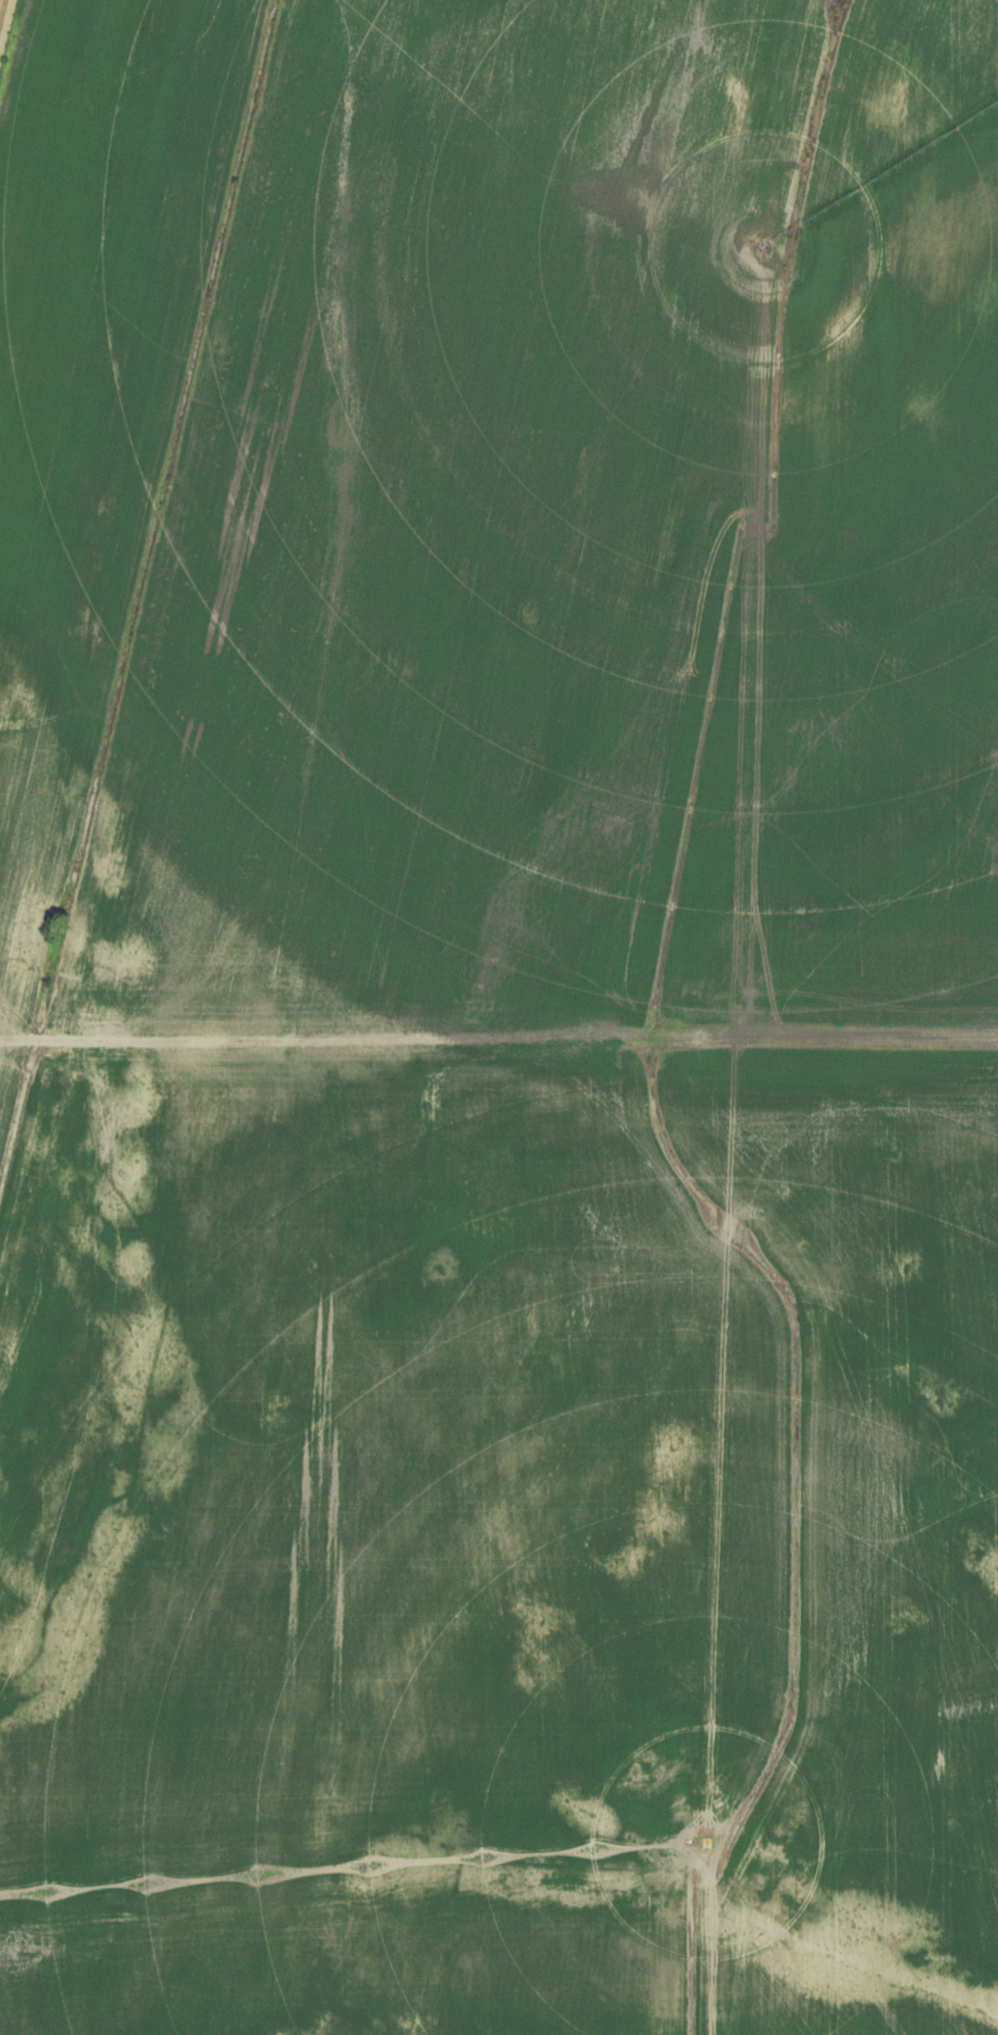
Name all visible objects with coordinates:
railway: (2, 10)
road: (499, 1039)

